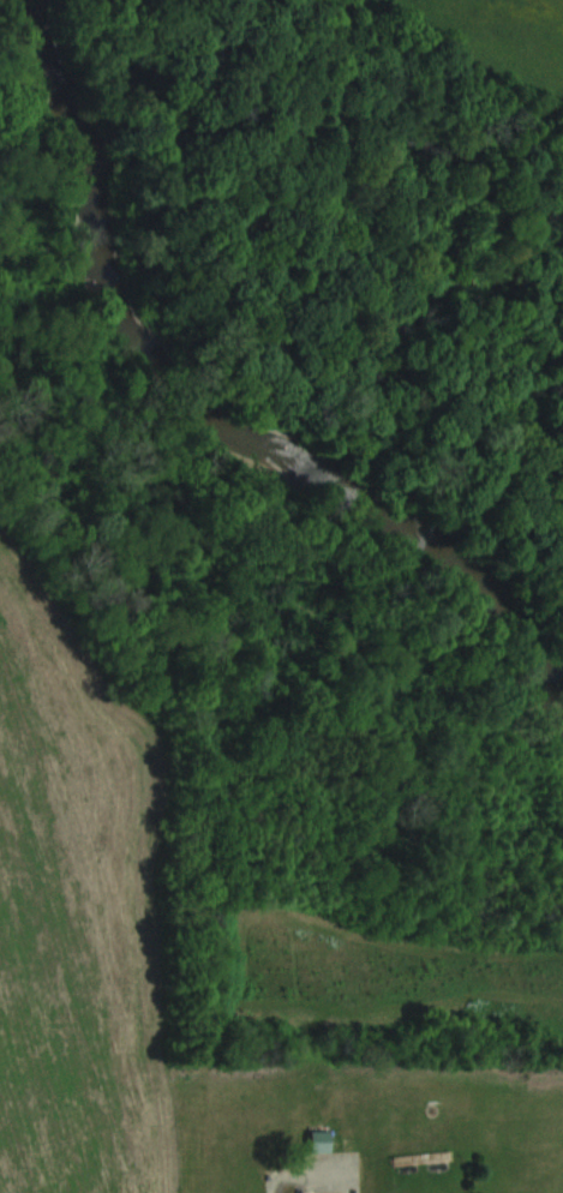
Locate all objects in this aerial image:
river: (216, 416)
building: (318, 1140)
road: (269, 1188)

